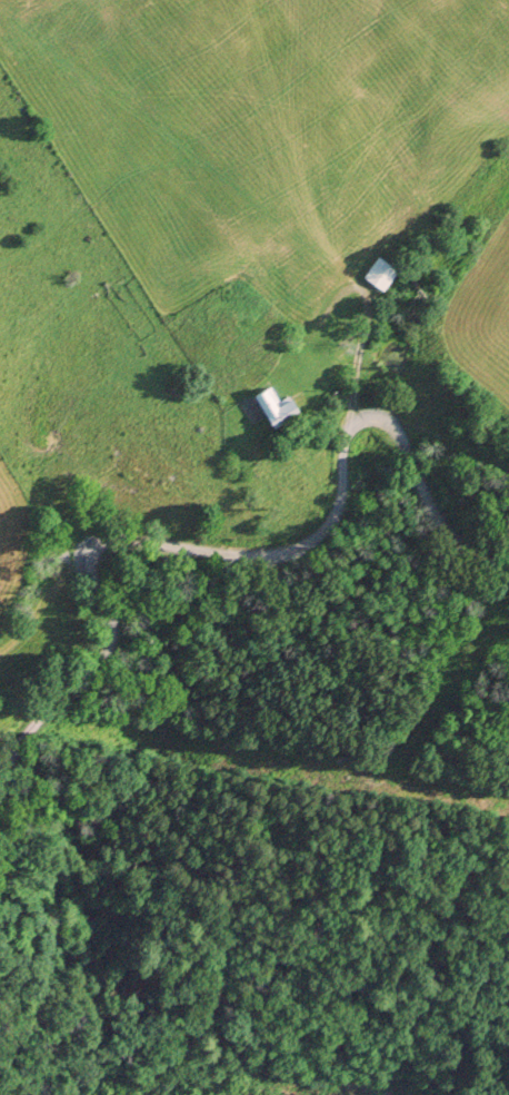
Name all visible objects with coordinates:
building: (380, 272)
building: (253, 286)
road: (365, 318)
building: (275, 342)
building: (267, 365)
building: (250, 377)
building: (275, 408)
road: (250, 555)

